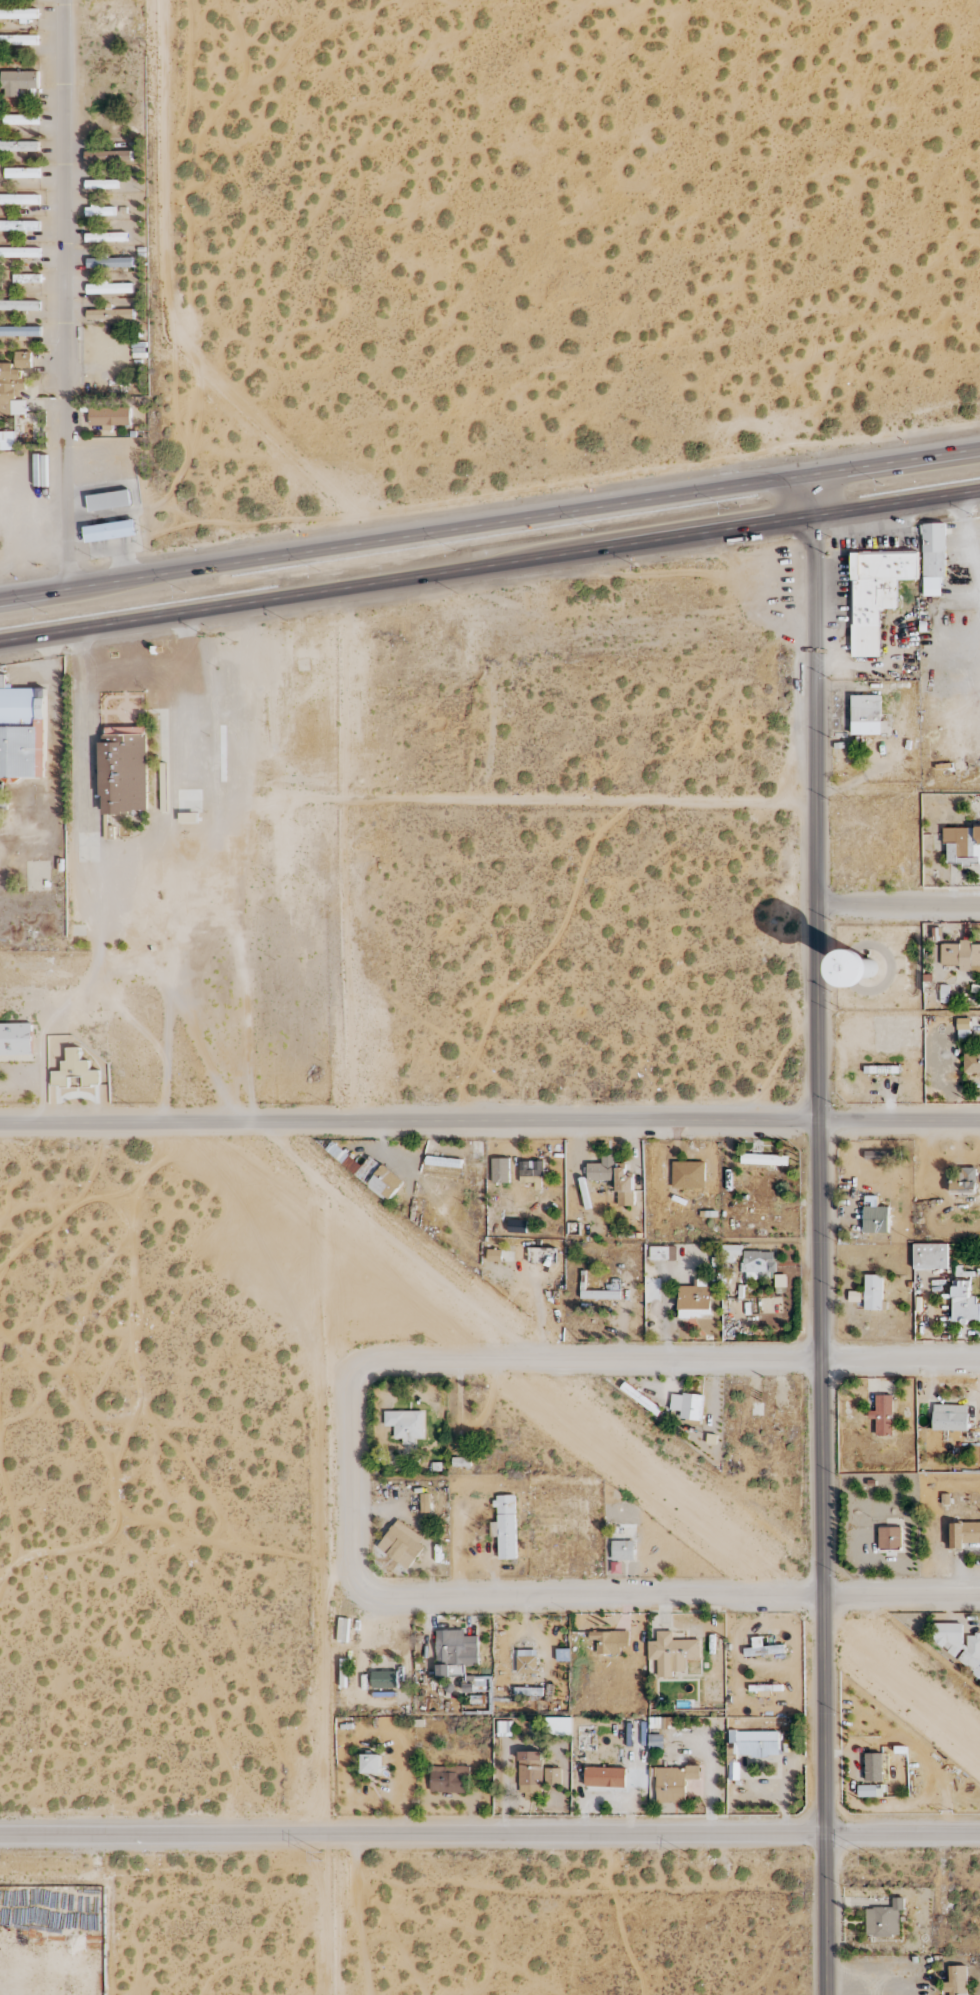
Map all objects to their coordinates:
building: (18, 14)
building: (18, 40)
building: (18, 81)
building: (21, 120)
building: (19, 146)
building: (108, 156)
building: (22, 173)
building: (102, 184)
building: (19, 199)
building: (101, 210)
building: (19, 225)
building: (106, 237)
building: (19, 252)
building: (109, 262)
building: (27, 278)
building: (110, 288)
road: (66, 295)
building: (19, 305)
building: (110, 314)
building: (20, 331)
building: (23, 360)
building: (10, 391)
building: (109, 417)
building: (7, 441)
building: (109, 500)
road: (489, 524)
building: (111, 531)
building: (933, 558)
road: (489, 568)
building: (876, 594)
building: (866, 715)
building: (23, 732)
road: (54, 751)
building: (124, 769)
building: (1, 800)
building: (110, 832)
building: (962, 845)
road: (127, 860)
road: (898, 906)
building: (961, 954)
building: (867, 968)
water tower: (866, 970)
building: (945, 994)
building: (964, 1030)
building: (16, 1039)
building: (972, 1063)
building: (881, 1070)
building: (75, 1071)
road: (489, 1128)
building: (764, 1160)
building: (444, 1162)
building: (602, 1169)
building: (501, 1170)
building: (369, 1172)
building: (531, 1172)
building: (963, 1180)
building: (625, 1188)
building: (875, 1219)
road: (820, 1234)
building: (733, 1251)
building: (663, 1253)
building: (494, 1255)
building: (931, 1256)
building: (759, 1263)
building: (614, 1284)
building: (874, 1293)
building: (601, 1295)
building: (695, 1300)
building: (964, 1303)
road: (477, 1358)
road: (901, 1361)
building: (644, 1401)
building: (688, 1406)
building: (883, 1415)
building: (950, 1417)
building: (406, 1425)
building: (462, 1461)
building: (425, 1508)
building: (505, 1527)
building: (964, 1534)
building: (890, 1539)
building: (403, 1544)
building: (623, 1551)
road: (670, 1597)
building: (607, 1642)
building: (959, 1644)
building: (762, 1648)
building: (456, 1653)
building: (672, 1653)
building: (527, 1661)
building: (385, 1679)
building: (528, 1693)
building: (558, 1726)
building: (504, 1729)
building: (752, 1744)
building: (371, 1764)
building: (874, 1767)
building: (530, 1775)
building: (553, 1777)
building: (605, 1777)
road: (330, 1779)
building: (450, 1780)
building: (674, 1783)
building: (871, 1791)
road: (490, 1834)
building: (884, 1919)
building: (957, 1981)

